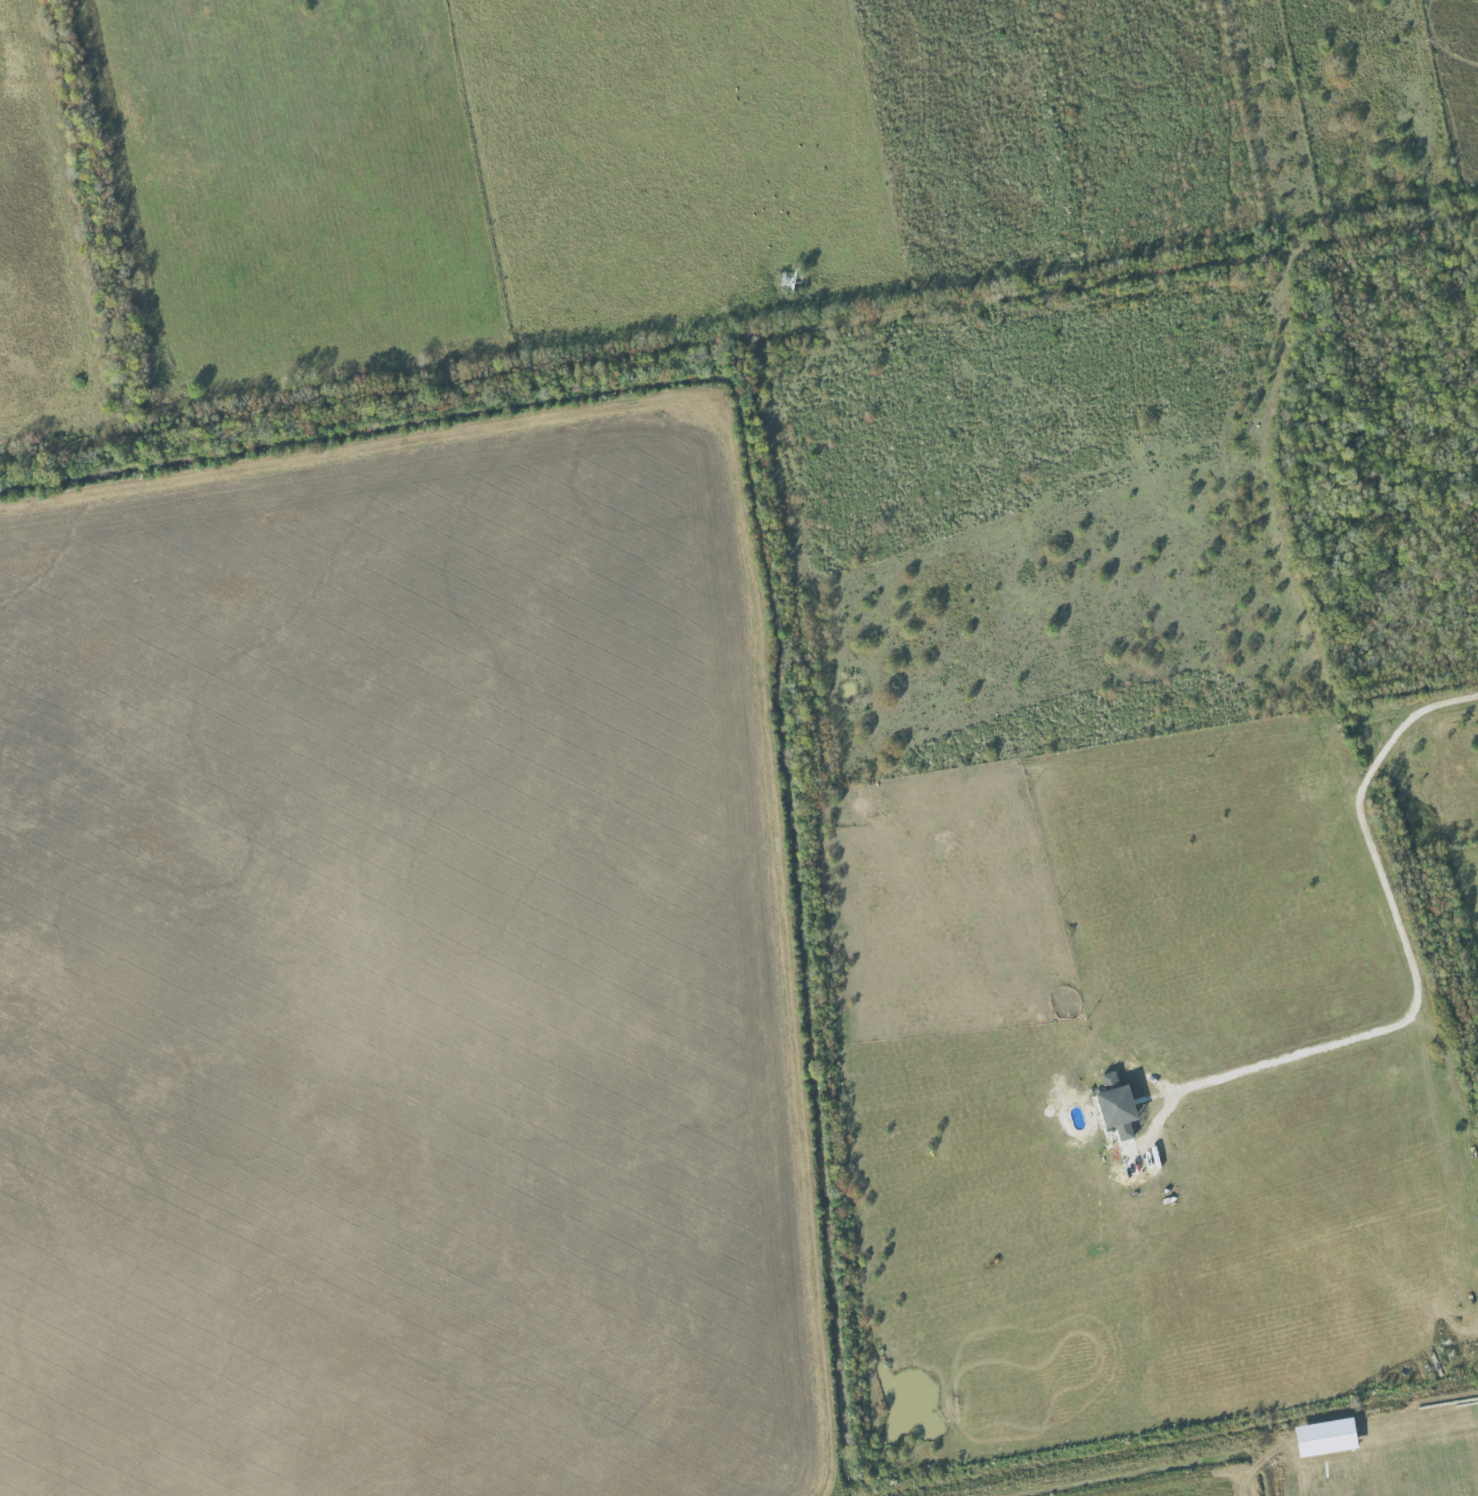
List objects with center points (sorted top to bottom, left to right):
road: (1407, 954)

